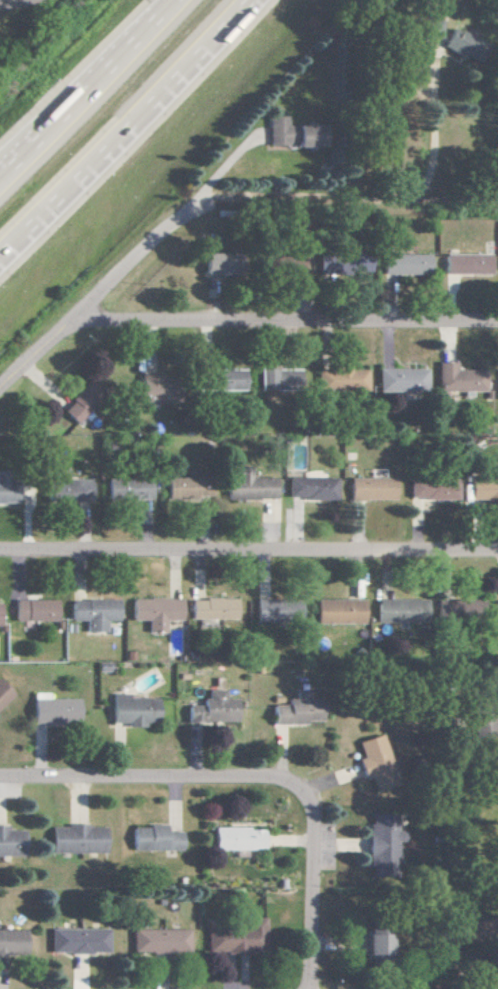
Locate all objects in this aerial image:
road: (170, 2)
road: (19, 5)
building: (434, 29)
building: (460, 43)
road: (87, 87)
road: (125, 127)
building: (277, 131)
road: (429, 132)
road: (2, 171)
road: (2, 172)
road: (337, 206)
building: (217, 263)
building: (467, 264)
building: (406, 265)
building: (360, 266)
road: (89, 308)
road: (286, 324)
building: (278, 377)
building: (459, 378)
building: (227, 379)
building: (341, 379)
building: (401, 380)
building: (74, 410)
building: (247, 485)
building: (485, 486)
building: (186, 487)
building: (310, 488)
building: (371, 488)
building: (127, 489)
building: (432, 489)
building: (68, 490)
building: (8, 492)
road: (249, 553)
building: (456, 607)
building: (212, 608)
building: (35, 609)
building: (495, 609)
building: (400, 610)
building: (155, 611)
building: (276, 611)
building: (338, 611)
building: (94, 613)
building: (4, 693)
building: (212, 708)
building: (54, 709)
building: (132, 710)
building: (482, 724)
building: (374, 762)
road: (150, 782)
building: (237, 838)
building: (77, 839)
building: (154, 839)
building: (11, 842)
building: (381, 848)
road: (314, 886)
building: (237, 937)
building: (77, 940)
building: (158, 940)
building: (11, 941)
building: (376, 943)

